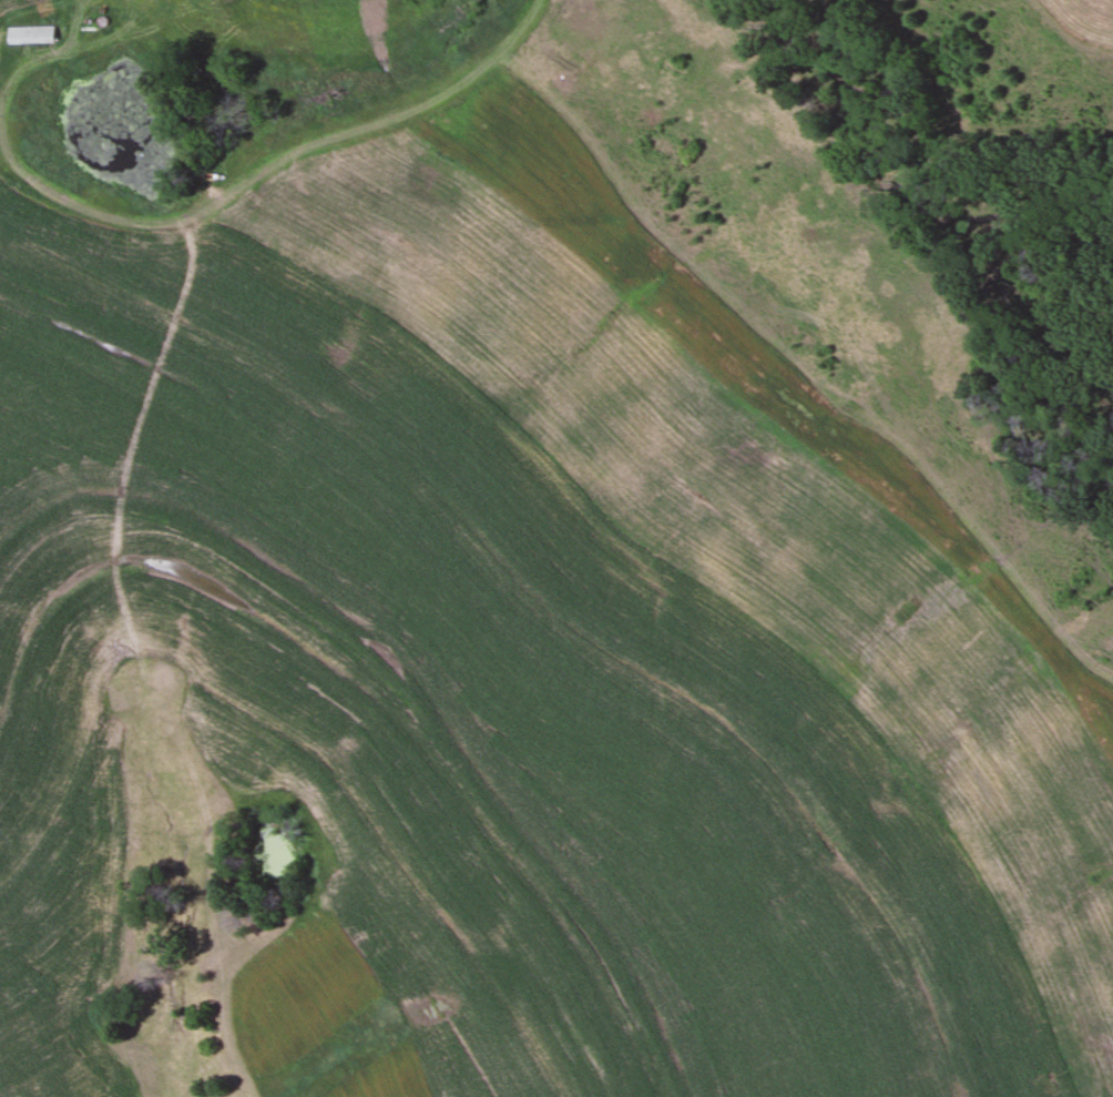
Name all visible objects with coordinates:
building: (33, 33)

